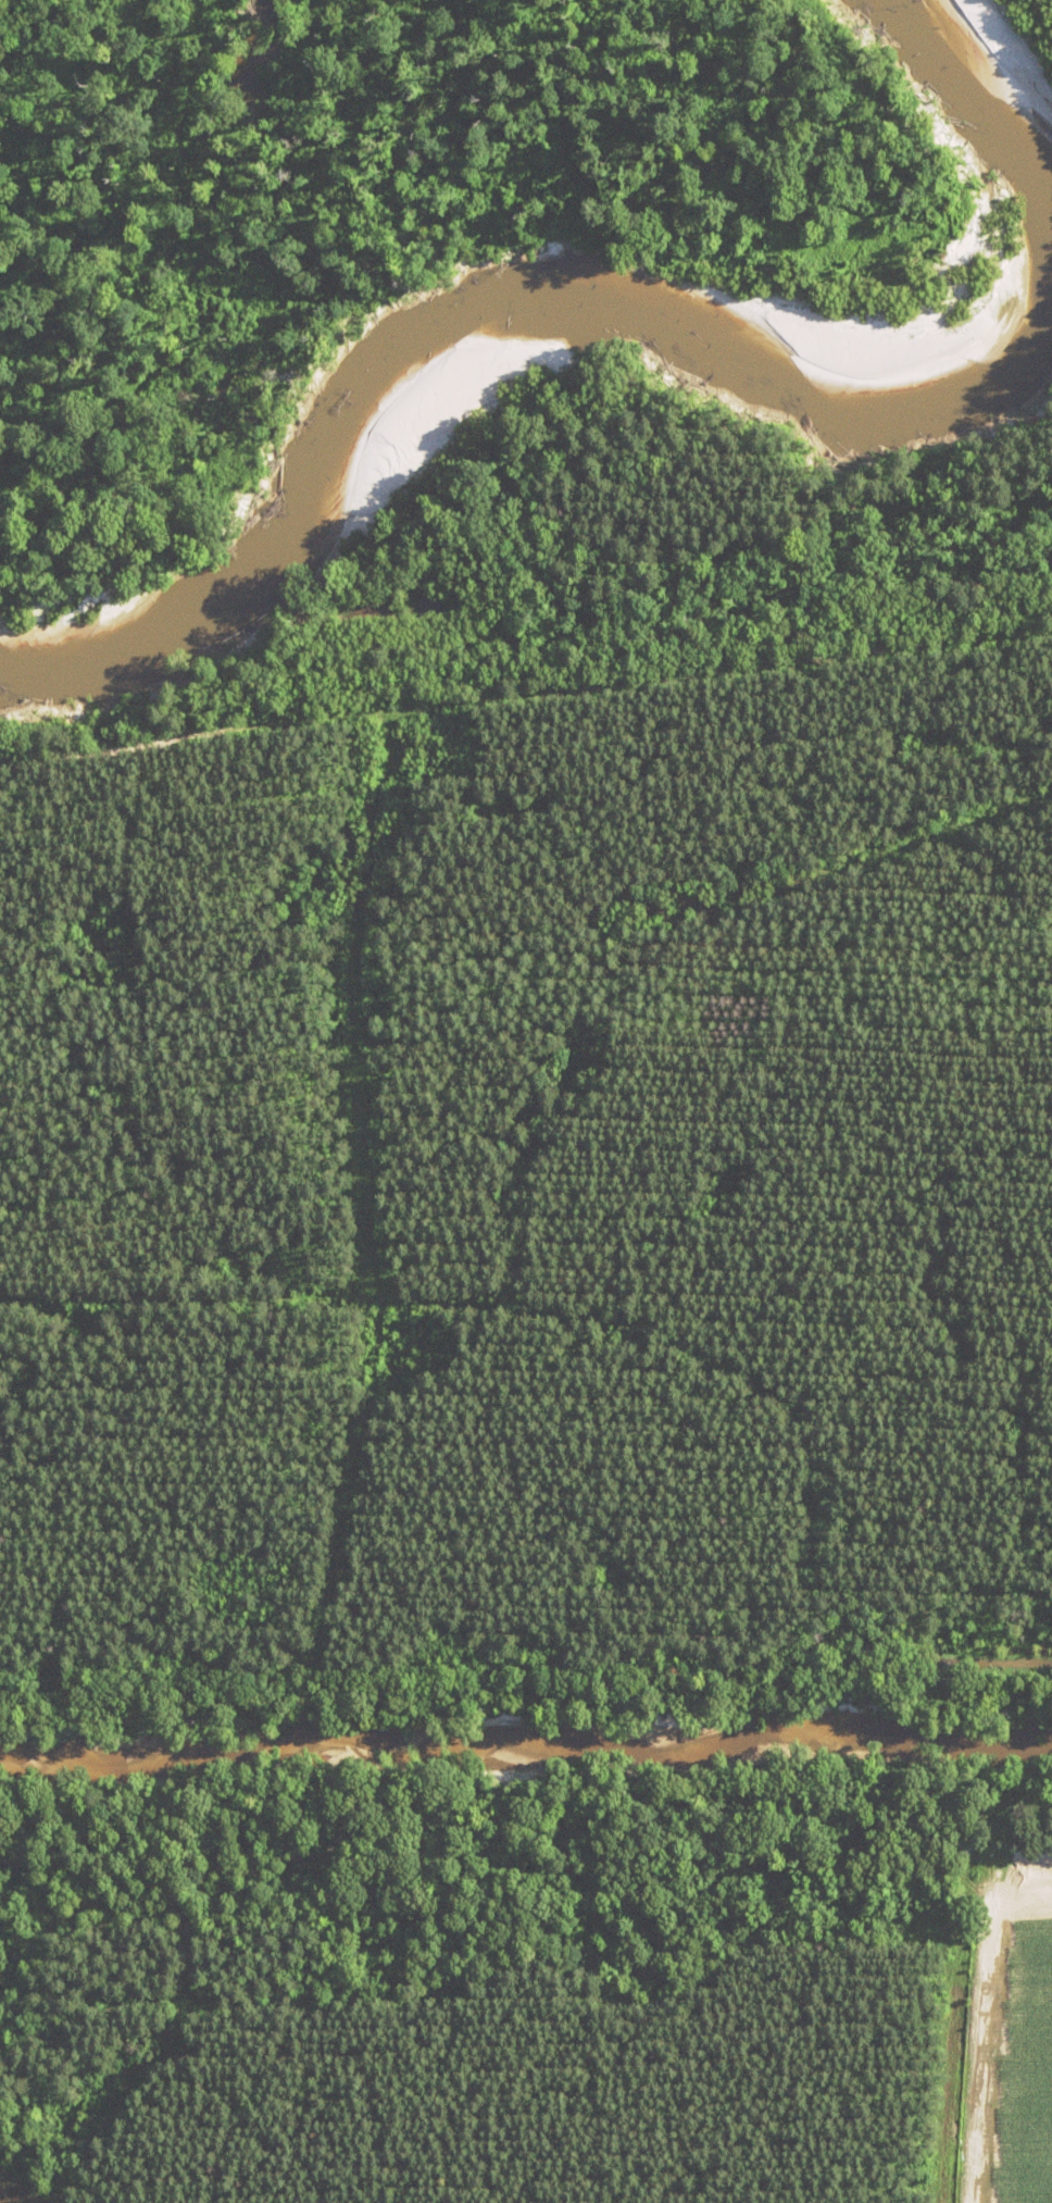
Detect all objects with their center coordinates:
river: (1039, 27)
river: (487, 343)

